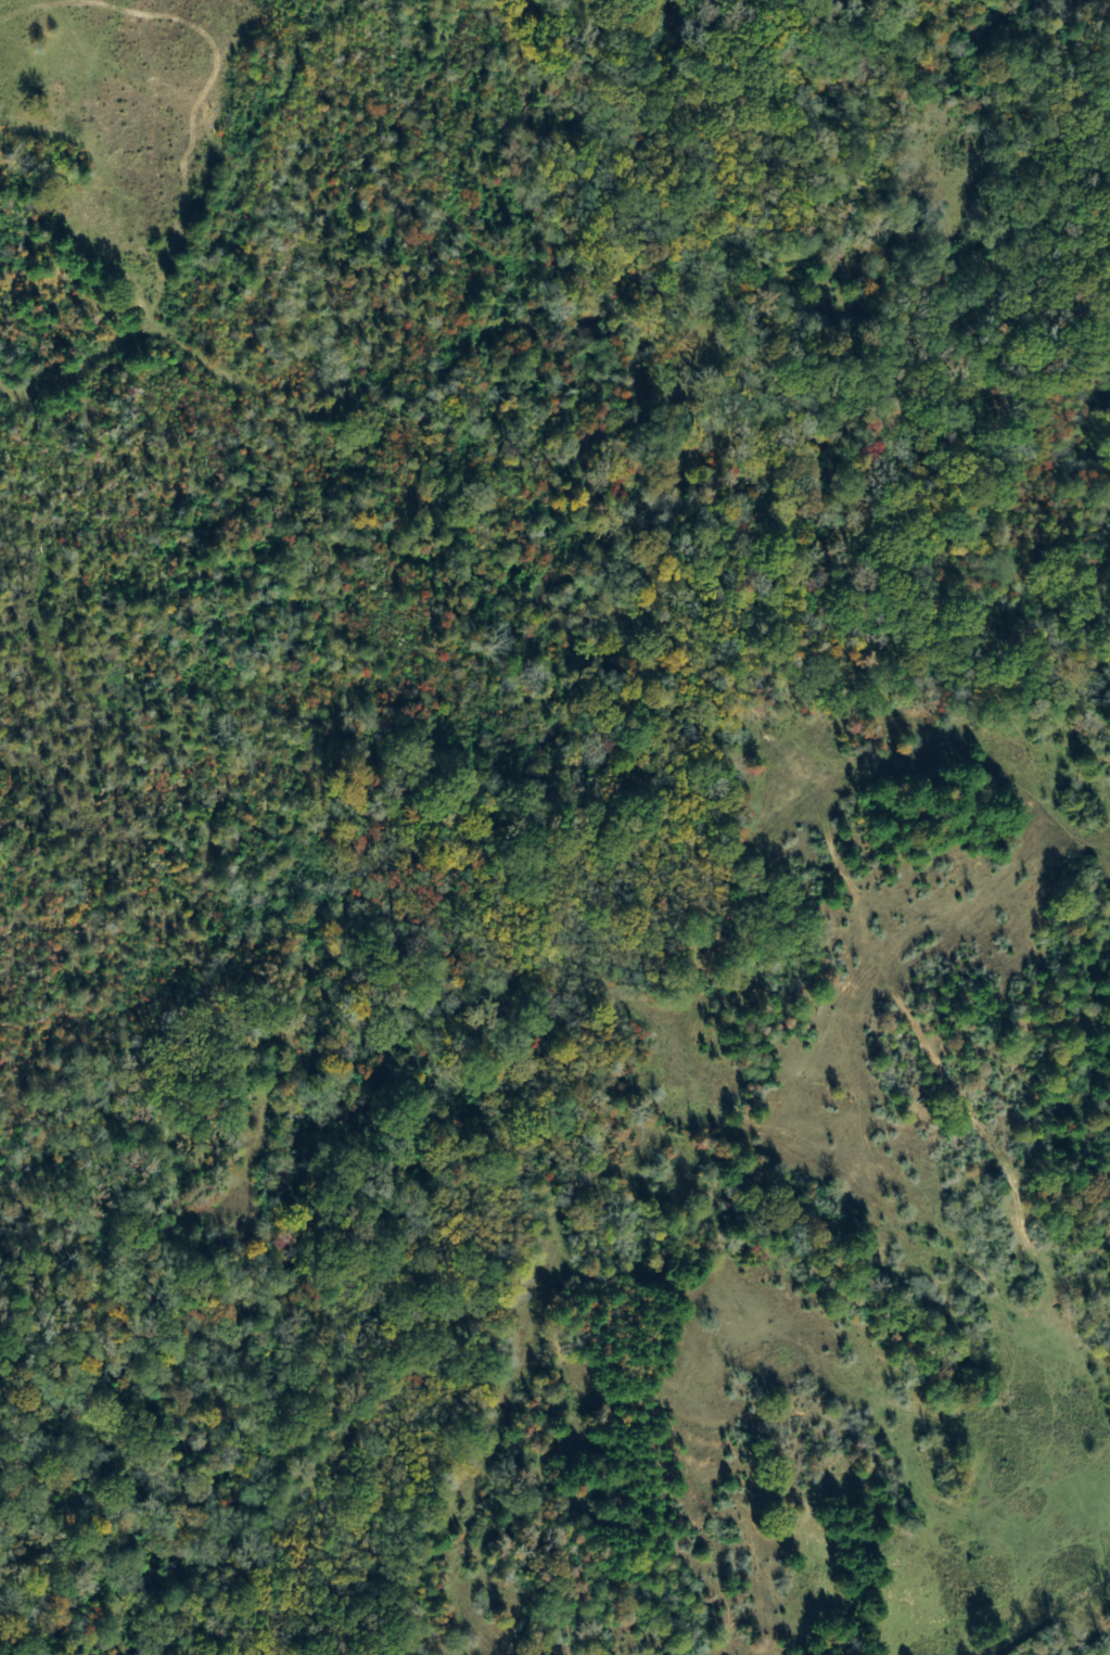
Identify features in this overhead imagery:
road: (1068, 1641)

